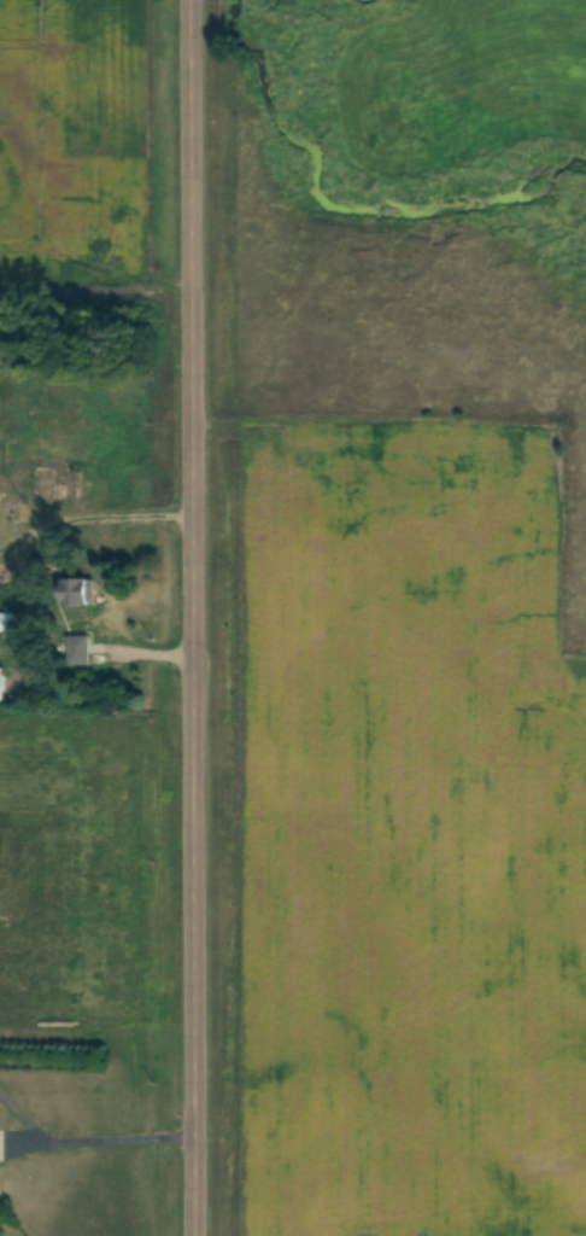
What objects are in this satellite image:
building: (74, 591)
road: (189, 617)
building: (7, 624)
building: (77, 649)
building: (1, 683)
road: (94, 1138)

